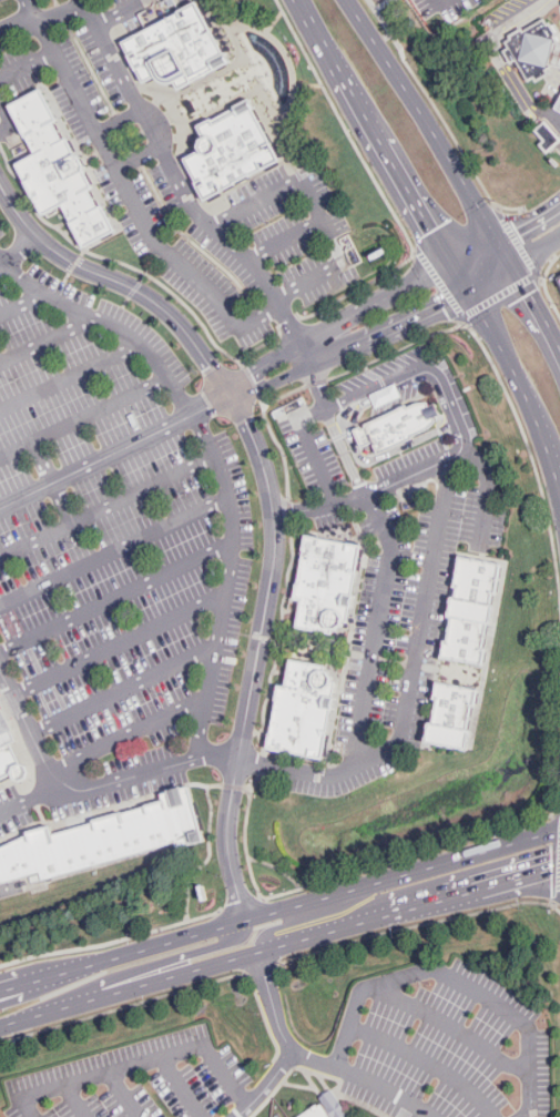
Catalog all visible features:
road: (55, 2)
road: (63, 13)
road: (122, 13)
road: (223, 13)
road: (43, 20)
road: (275, 21)
building: (538, 45)
road: (226, 48)
building: (175, 49)
road: (285, 51)
road: (502, 61)
road: (27, 64)
road: (267, 64)
road: (261, 65)
fountain: (267, 67)
road: (131, 68)
road: (92, 69)
road: (339, 69)
road: (253, 72)
road: (247, 84)
road: (307, 84)
road: (261, 88)
road: (250, 89)
road: (189, 93)
building: (558, 104)
road: (180, 112)
road: (200, 114)
road: (440, 114)
road: (425, 118)
road: (8, 121)
road: (118, 121)
road: (120, 121)
road: (156, 125)
building: (550, 134)
road: (129, 139)
road: (129, 140)
road: (106, 149)
building: (232, 150)
road: (92, 156)
road: (138, 158)
road: (139, 159)
road: (183, 165)
road: (269, 166)
building: (58, 169)
road: (91, 173)
road: (378, 186)
road: (184, 193)
road: (130, 195)
road: (415, 200)
road: (318, 210)
road: (196, 211)
road: (528, 223)
road: (179, 229)
road: (538, 233)
road: (287, 240)
traffic signals: (496, 242)
road: (195, 244)
road: (163, 248)
road: (415, 250)
road: (536, 250)
road: (18, 253)
road: (475, 253)
road: (503, 253)
road: (115, 260)
traffic signals: (454, 264)
traffic signals: (511, 265)
road: (151, 268)
building: (559, 274)
road: (461, 276)
road: (490, 277)
road: (539, 280)
road: (546, 285)
road: (135, 288)
traffic signals: (469, 290)
road: (125, 302)
road: (22, 305)
road: (536, 306)
road: (464, 315)
road: (288, 319)
road: (47, 341)
road: (263, 344)
road: (395, 351)
road: (418, 369)
road: (512, 372)
road: (70, 377)
road: (252, 382)
road: (317, 383)
road: (230, 395)
road: (264, 399)
road: (83, 418)
building: (395, 426)
road: (271, 429)
road: (528, 445)
road: (313, 449)
road: (114, 451)
road: (216, 458)
road: (371, 459)
road: (553, 480)
road: (54, 481)
road: (370, 491)
road: (487, 494)
road: (271, 495)
road: (108, 506)
road: (289, 510)
road: (323, 535)
road: (114, 550)
road: (389, 558)
building: (324, 583)
road: (116, 597)
building: (468, 610)
road: (318, 639)
road: (277, 640)
road: (291, 641)
road: (120, 644)
fountain: (312, 646)
road: (334, 650)
road: (335, 650)
road: (347, 661)
road: (411, 686)
road: (123, 690)
building: (302, 708)
building: (450, 715)
road: (28, 729)
road: (129, 735)
building: (9, 753)
road: (262, 763)
road: (29, 764)
road: (116, 781)
road: (257, 781)
road: (233, 785)
road: (28, 789)
road: (33, 799)
road: (101, 810)
road: (41, 813)
road: (246, 840)
building: (103, 841)
road: (210, 850)
road: (411, 856)
road: (277, 867)
road: (16, 885)
road: (556, 900)
road: (241, 905)
road: (279, 908)
road: (315, 915)
road: (416, 924)
road: (111, 943)
road: (281, 947)
road: (141, 969)
road: (262, 969)
road: (454, 978)
road: (124, 1006)
road: (279, 1025)
road: (455, 1026)
road: (429, 1059)
road: (140, 1063)
road: (266, 1085)
road: (176, 1087)
road: (387, 1088)
road: (119, 1096)
road: (70, 1103)
building: (324, 1108)

